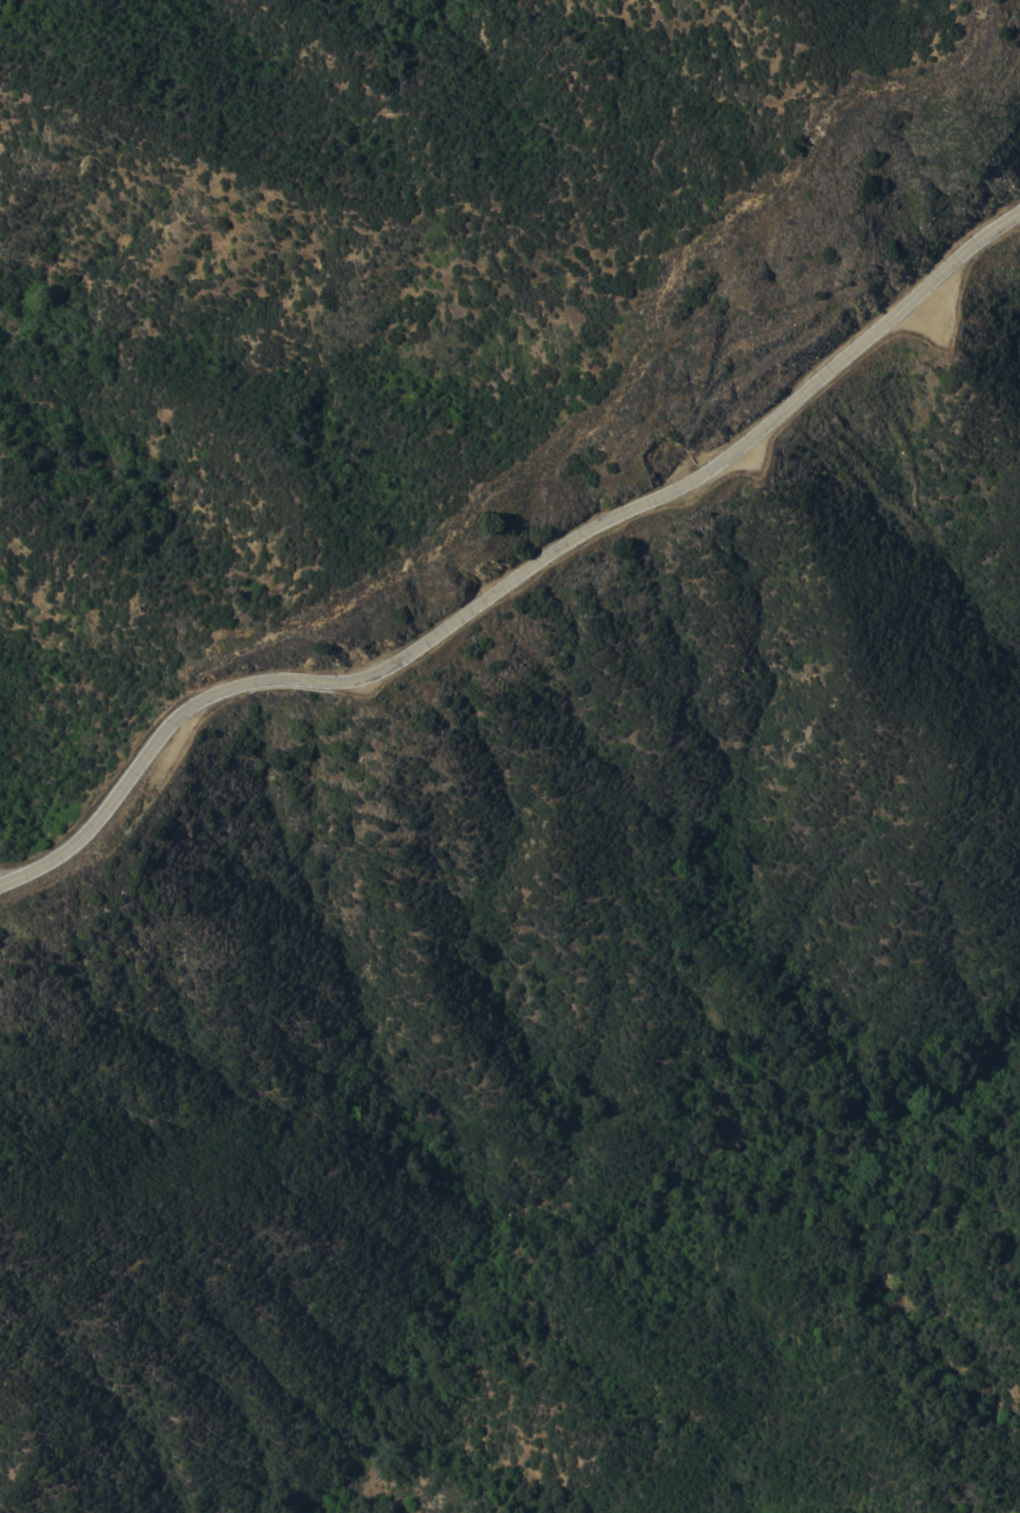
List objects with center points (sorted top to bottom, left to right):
road: (514, 579)

